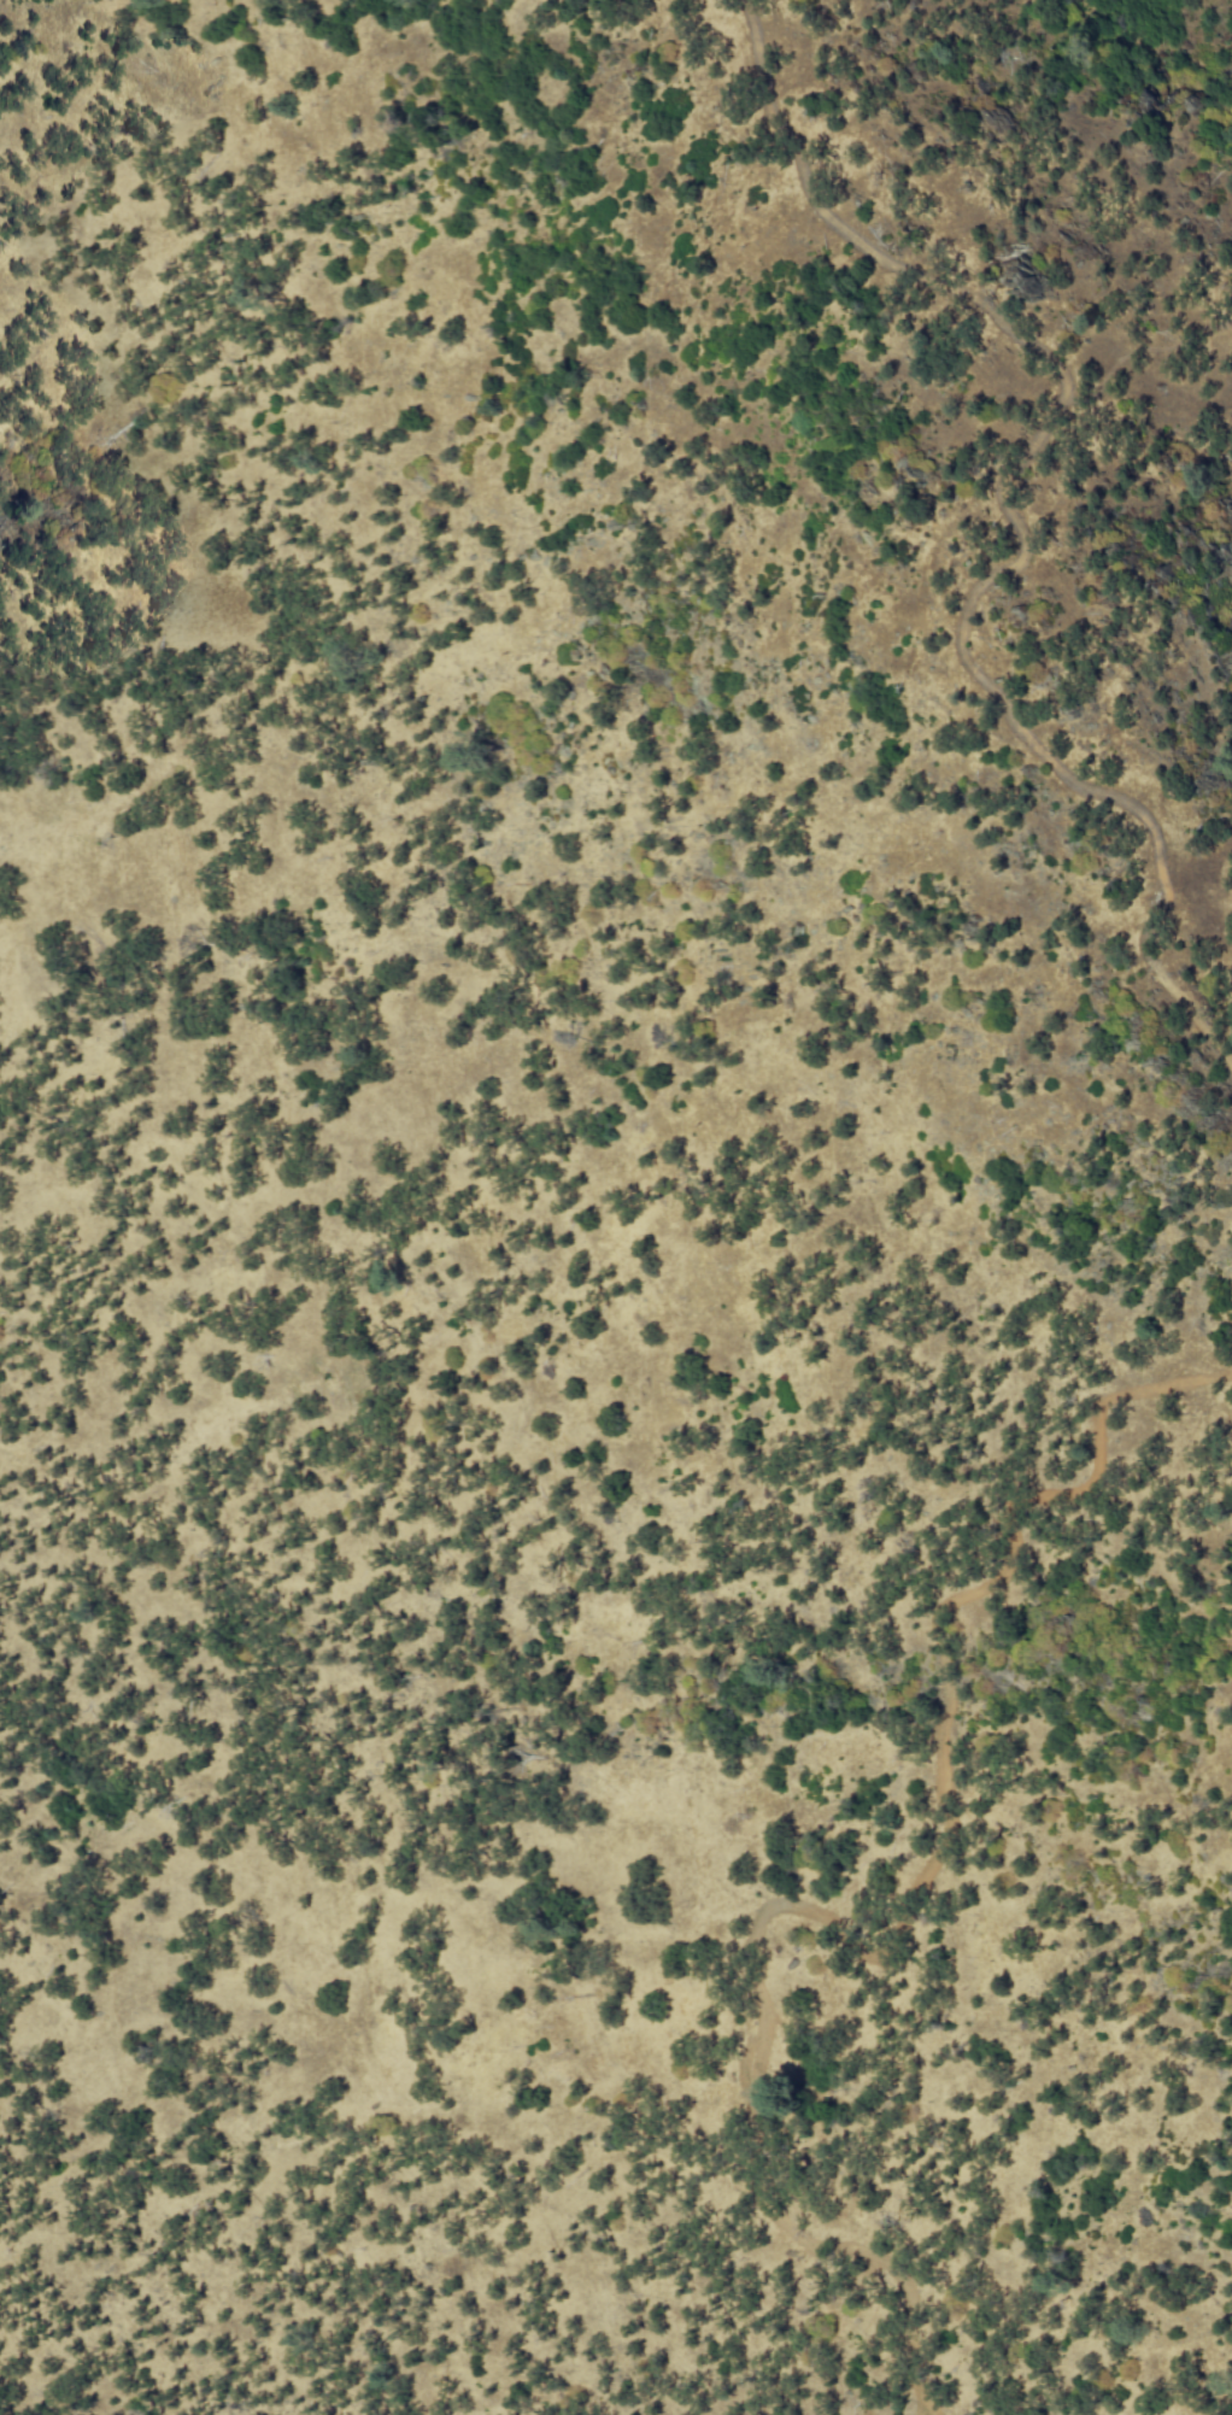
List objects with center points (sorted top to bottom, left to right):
building: (1195, 102)

